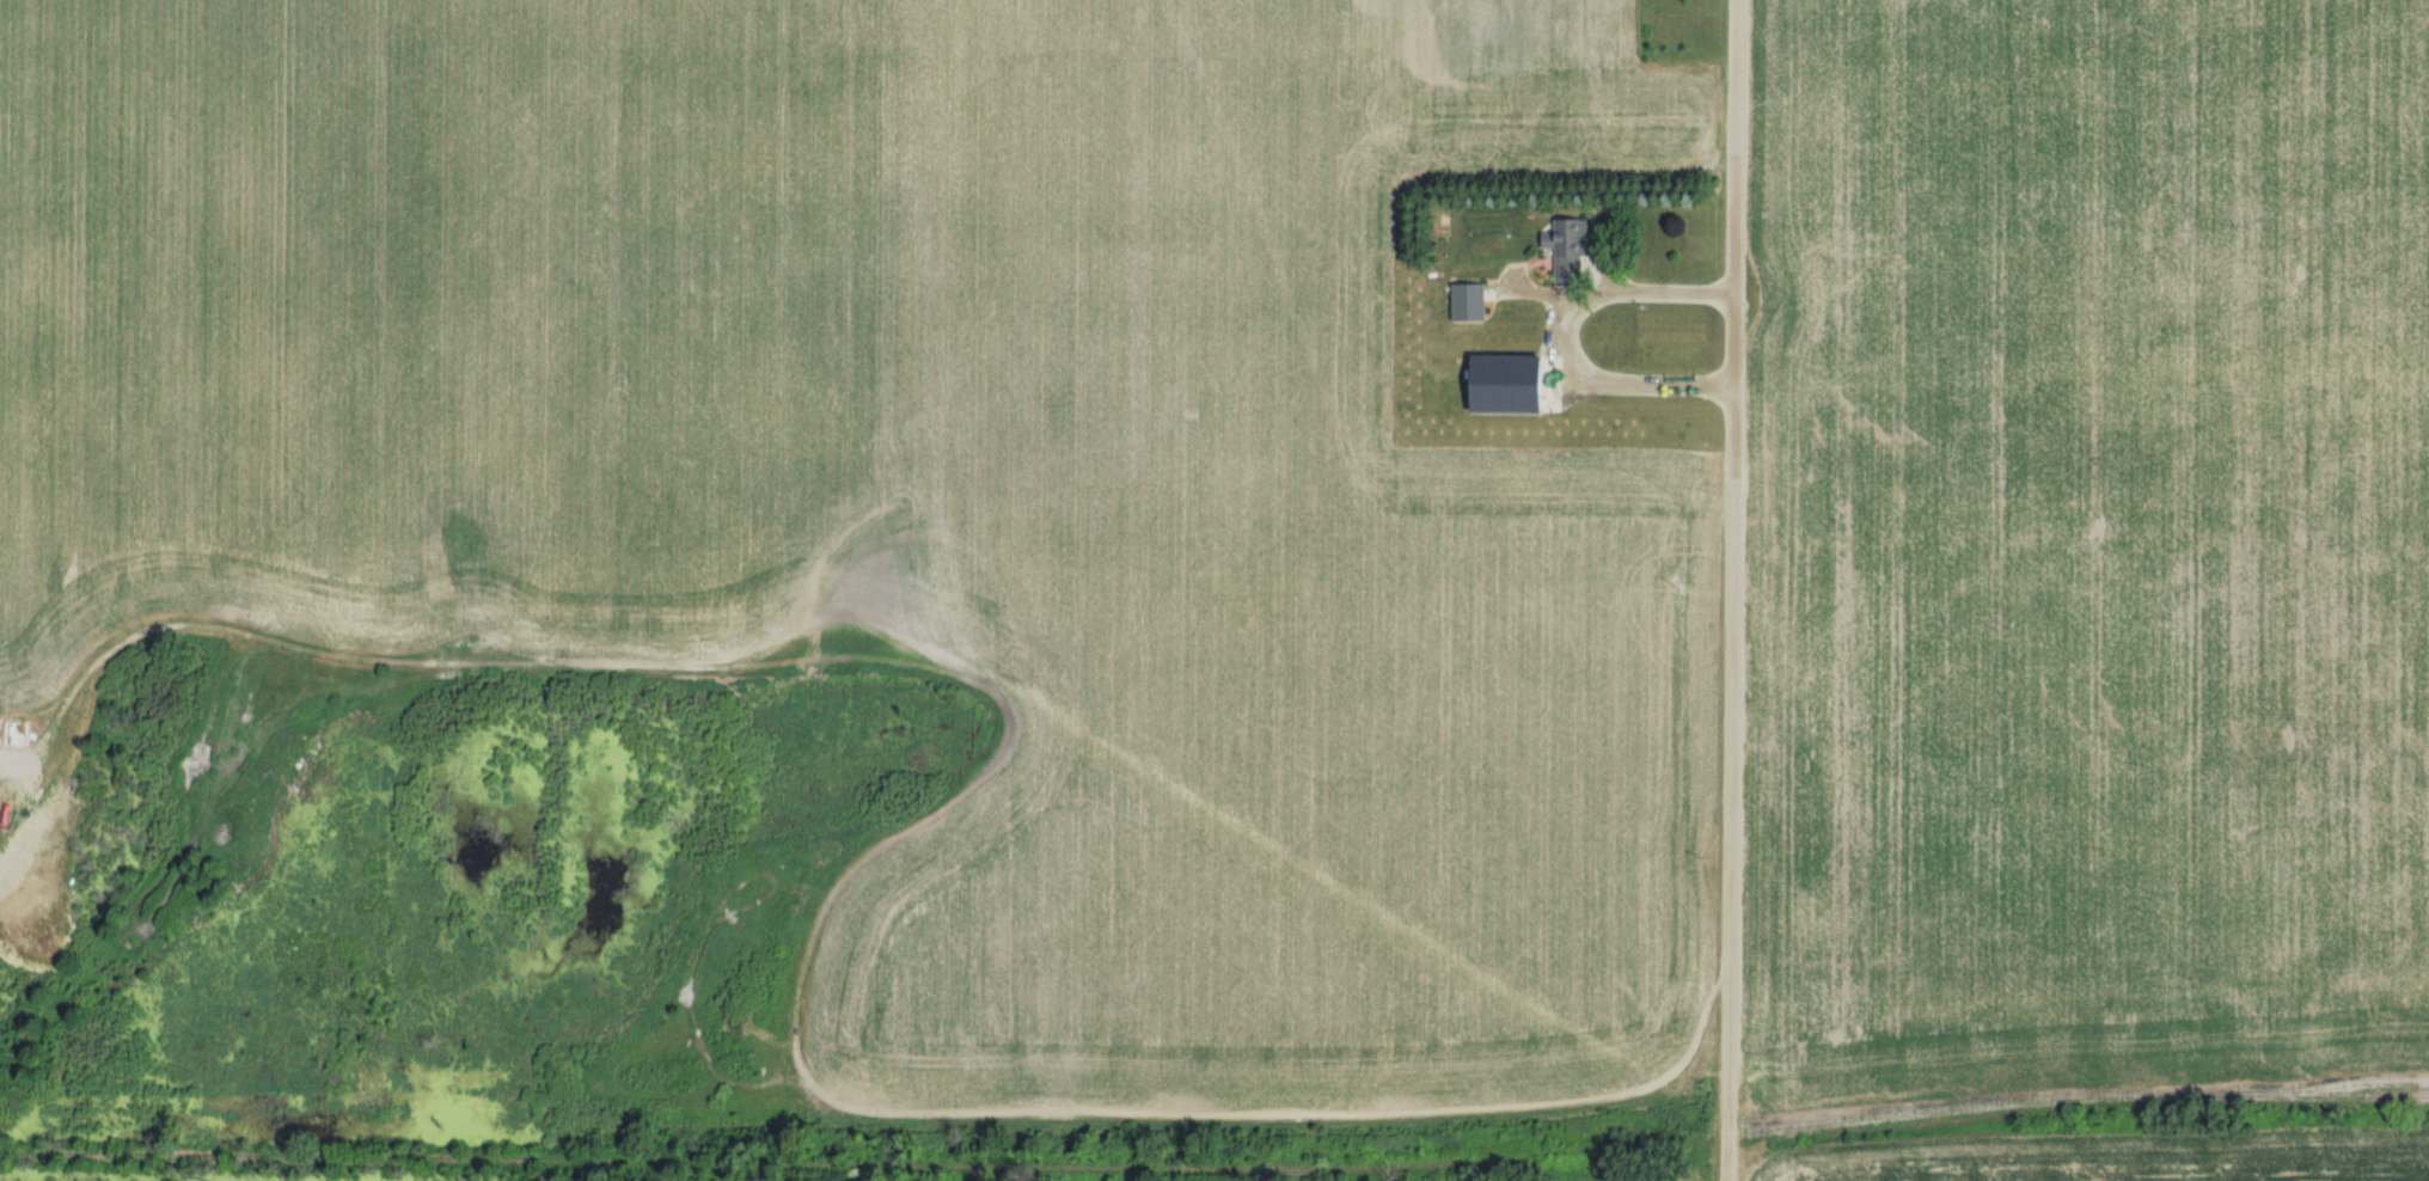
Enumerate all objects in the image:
building: (1571, 246)
road: (1616, 284)
building: (1470, 302)
road: (1732, 589)
railway: (2329, 1084)
railway: (1852, 1120)
railway: (637, 1162)

